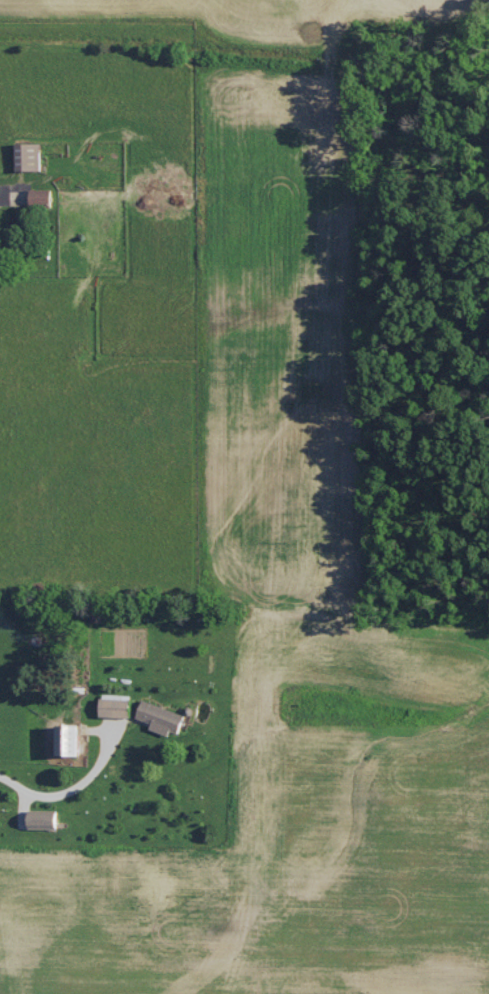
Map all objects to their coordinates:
building: (26, 155)
building: (37, 195)
building: (112, 705)
building: (158, 716)
building: (64, 739)
road: (74, 787)
building: (40, 818)

